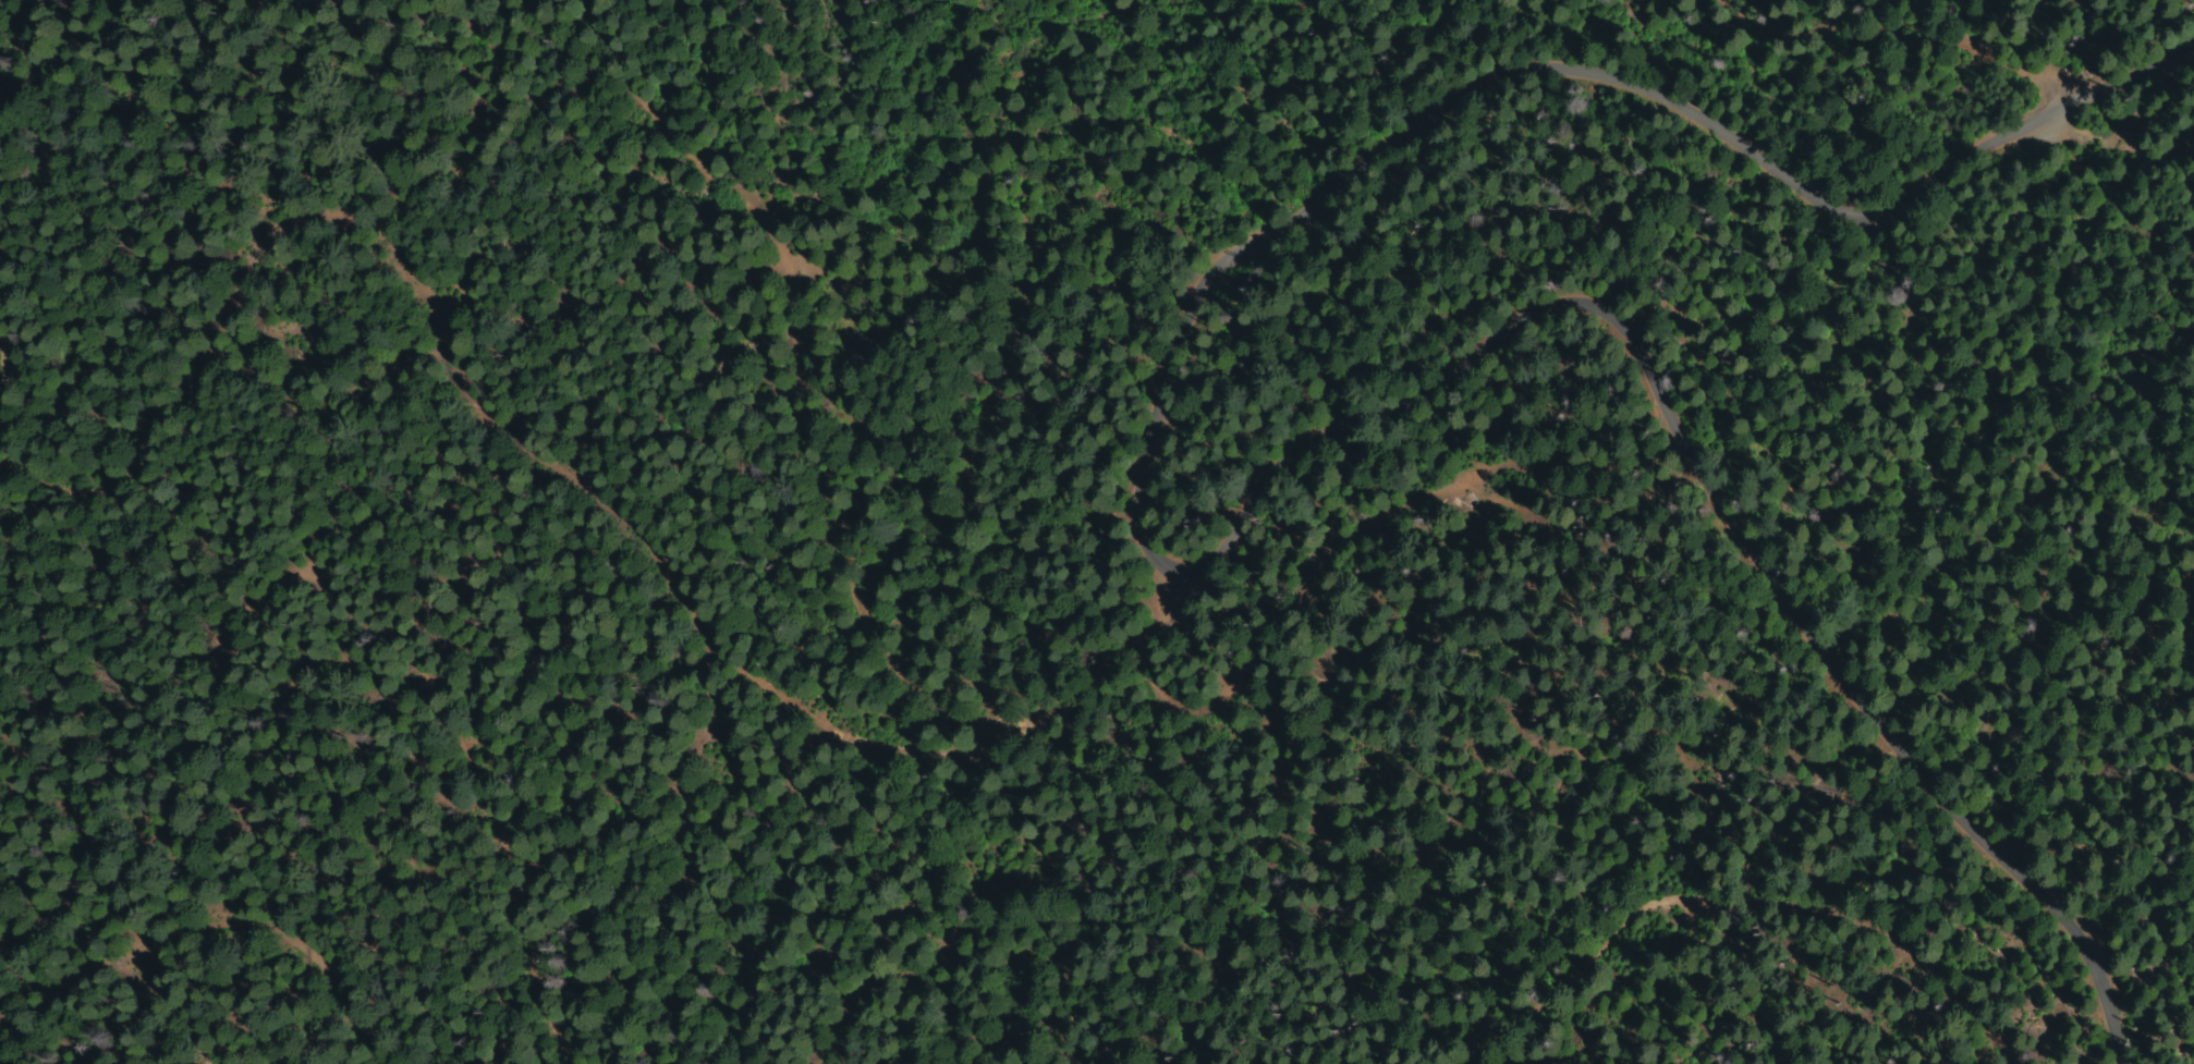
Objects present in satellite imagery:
road: (1532, 76)
road: (535, 394)
road: (1699, 489)

